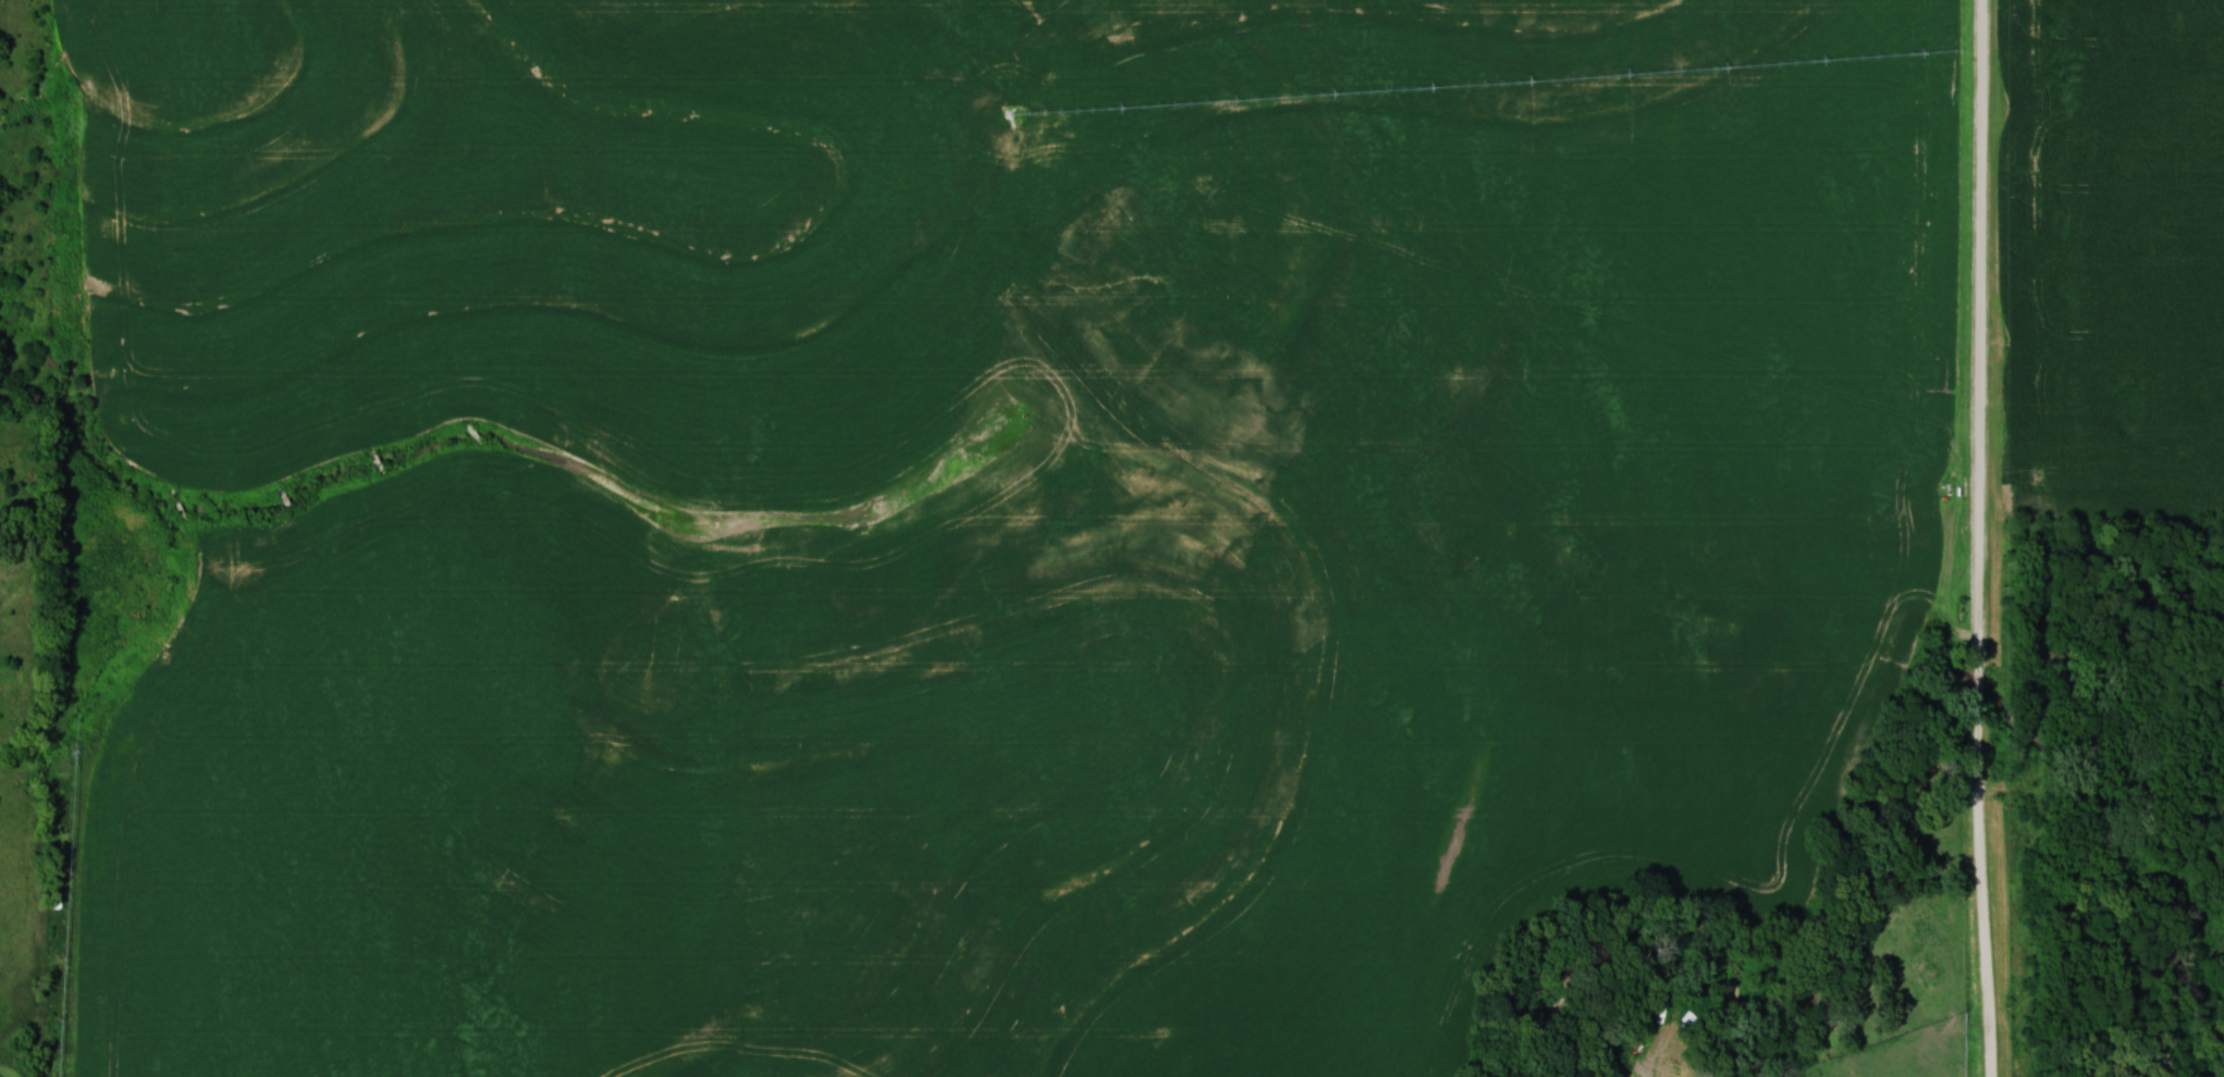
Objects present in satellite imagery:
road: (1979, 538)

